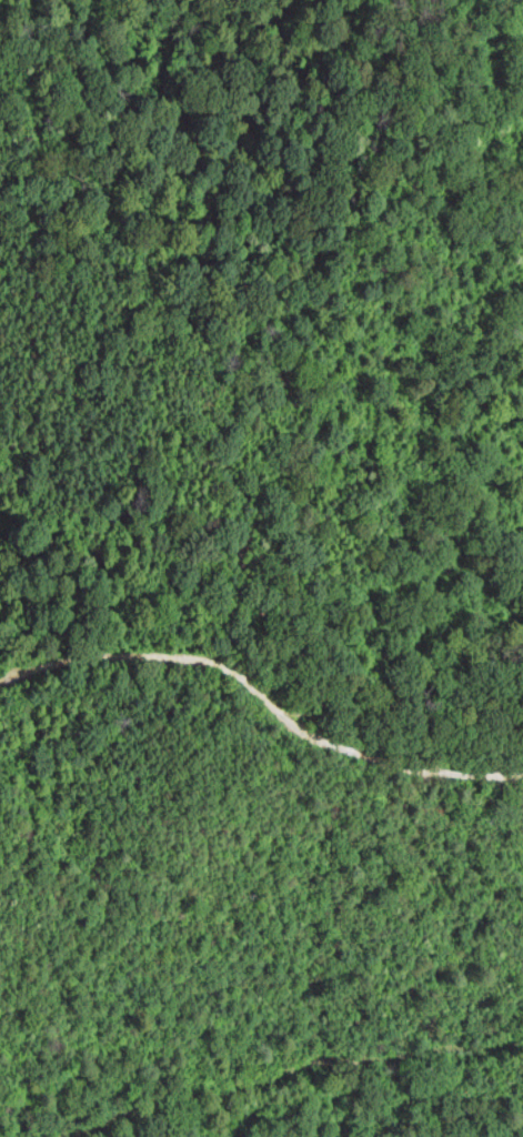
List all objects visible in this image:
road: (257, 703)

